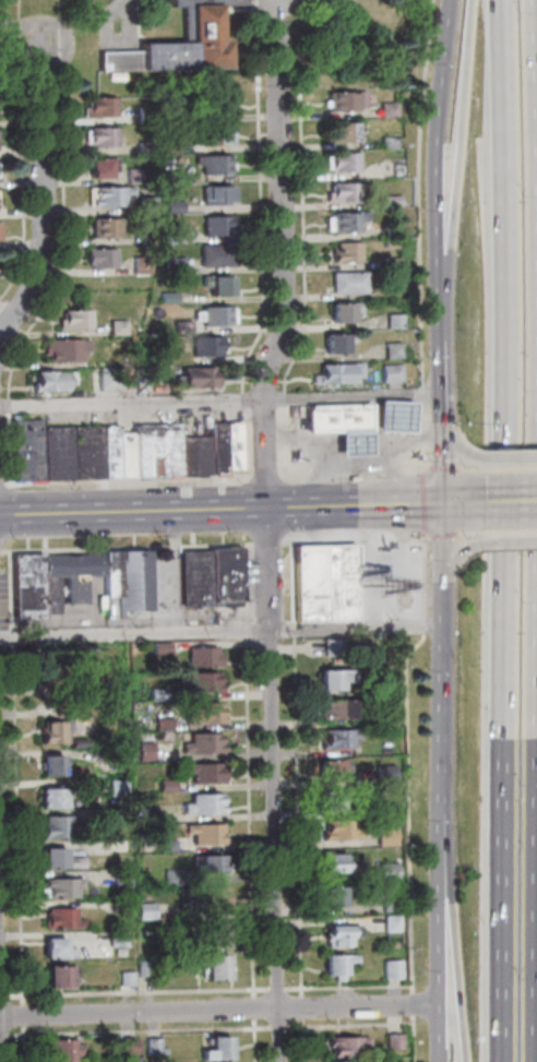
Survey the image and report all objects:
building: (176, 45)
building: (334, 99)
building: (208, 103)
building: (97, 106)
building: (377, 108)
building: (164, 112)
building: (142, 115)
building: (332, 130)
building: (211, 134)
building: (98, 136)
road: (427, 138)
road: (454, 139)
building: (378, 141)
building: (165, 143)
building: (143, 146)
road: (17, 148)
building: (332, 159)
building: (210, 163)
building: (96, 166)
building: (384, 170)
building: (132, 175)
building: (168, 175)
road: (39, 190)
building: (334, 191)
building: (105, 195)
building: (211, 195)
road: (252, 198)
building: (381, 201)
building: (143, 204)
building: (169, 206)
building: (335, 220)
building: (213, 225)
building: (102, 227)
building: (381, 231)
building: (169, 235)
building: (145, 238)
road: (406, 238)
road: (294, 240)
building: (381, 243)
road: (59, 247)
building: (336, 251)
building: (211, 254)
building: (97, 258)
building: (381, 263)
building: (138, 264)
building: (170, 264)
building: (339, 282)
building: (212, 284)
building: (165, 298)
road: (430, 307)
building: (334, 312)
building: (211, 317)
building: (72, 320)
building: (384, 321)
building: (115, 326)
building: (177, 326)
building: (336, 341)
building: (210, 347)
building: (71, 349)
building: (390, 349)
building: (335, 373)
building: (389, 373)
building: (146, 374)
building: (201, 377)
building: (106, 379)
building: (57, 380)
road: (350, 395)
road: (131, 402)
building: (391, 414)
building: (336, 417)
road: (439, 420)
road: (243, 434)
building: (351, 440)
building: (224, 446)
road: (454, 448)
building: (153, 449)
building: (85, 450)
building: (53, 452)
building: (107, 453)
building: (122, 453)
building: (192, 454)
road: (508, 456)
road: (350, 458)
road: (440, 467)
road: (508, 467)
road: (466, 468)
road: (351, 470)
road: (265, 477)
road: (130, 480)
road: (389, 480)
road: (323, 481)
road: (3, 485)
road: (509, 501)
road: (419, 502)
road: (461, 502)
traffic signals: (442, 503)
road: (220, 508)
road: (501, 530)
road: (509, 530)
road: (536, 530)
road: (467, 533)
road: (441, 535)
road: (266, 540)
road: (355, 540)
road: (267, 541)
road: (509, 541)
road: (127, 545)
road: (460, 548)
road: (442, 563)
road: (167, 571)
building: (106, 573)
building: (223, 574)
building: (67, 575)
building: (192, 577)
building: (132, 580)
building: (339, 582)
building: (309, 583)
building: (26, 585)
road: (384, 616)
road: (361, 621)
road: (403, 621)
road: (220, 631)
building: (162, 646)
building: (335, 647)
building: (202, 656)
building: (46, 677)
building: (335, 677)
building: (93, 681)
building: (204, 681)
building: (158, 693)
building: (65, 707)
building: (343, 708)
building: (196, 712)
road: (442, 712)
building: (390, 716)
building: (158, 724)
building: (49, 730)
building: (341, 738)
building: (79, 742)
building: (202, 742)
building: (139, 750)
road: (408, 760)
building: (51, 763)
building: (332, 768)
road: (298, 769)
building: (203, 774)
building: (389, 774)
building: (163, 781)
road: (13, 783)
building: (119, 787)
building: (51, 796)
building: (335, 799)
building: (204, 802)
building: (143, 803)
building: (389, 809)
building: (56, 825)
building: (203, 831)
building: (342, 831)
building: (390, 836)
building: (165, 842)
building: (58, 857)
building: (207, 863)
building: (338, 863)
building: (392, 871)
building: (120, 874)
building: (174, 876)
building: (57, 888)
road: (250, 891)
building: (339, 894)
building: (207, 897)
building: (122, 904)
building: (395, 906)
building: (146, 910)
building: (59, 918)
building: (396, 922)
road: (442, 930)
road: (455, 930)
building: (214, 931)
building: (345, 934)
building: (118, 935)
building: (175, 944)
building: (50, 946)
building: (343, 965)
building: (211, 966)
building: (396, 969)
building: (56, 975)
building: (124, 977)
road: (351, 988)
road: (285, 989)
road: (416, 1004)
road: (305, 1007)
road: (220, 1010)
road: (254, 1024)
road: (353, 1025)
road: (282, 1026)
road: (138, 1029)
road: (23, 1039)
road: (417, 1039)
road: (306, 1040)
building: (392, 1040)
building: (156, 1043)
building: (347, 1043)
building: (126, 1046)
building: (216, 1047)
building: (61, 1050)
building: (341, 1061)

